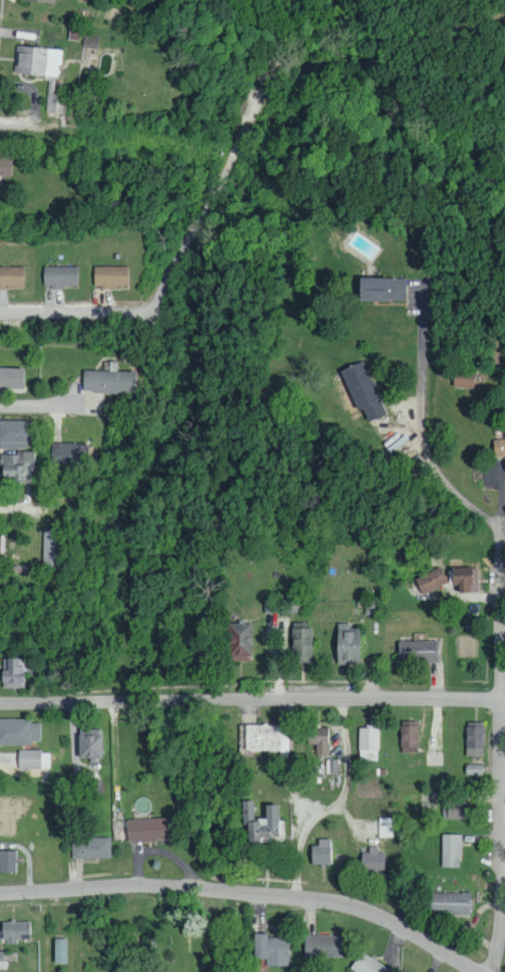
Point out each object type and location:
building: (42, 0)
building: (37, 60)
building: (55, 102)
road: (118, 133)
building: (5, 165)
building: (11, 276)
building: (61, 276)
building: (111, 276)
building: (380, 289)
road: (70, 317)
road: (467, 361)
building: (11, 377)
building: (463, 378)
building: (108, 381)
building: (362, 390)
road: (47, 403)
building: (14, 434)
building: (499, 447)
building: (70, 452)
building: (17, 465)
road: (21, 509)
building: (2, 544)
building: (53, 547)
building: (463, 578)
road: (496, 579)
building: (430, 580)
building: (371, 606)
building: (239, 641)
building: (300, 643)
building: (346, 644)
building: (417, 651)
building: (13, 673)
road: (252, 702)
building: (18, 732)
building: (409, 736)
building: (263, 738)
building: (319, 739)
building: (475, 739)
building: (89, 743)
building: (368, 744)
building: (34, 759)
building: (457, 809)
road: (336, 811)
building: (267, 819)
building: (148, 829)
road: (499, 836)
building: (91, 848)
building: (451, 851)
building: (321, 852)
building: (7, 861)
building: (372, 861)
road: (248, 894)
building: (450, 904)
building: (14, 931)
building: (322, 946)
building: (271, 950)
building: (59, 951)
building: (2, 960)
building: (367, 965)

